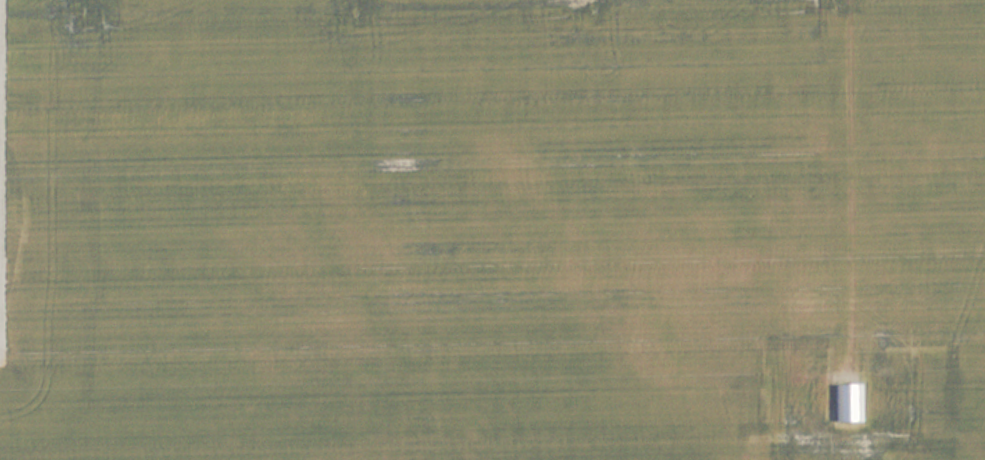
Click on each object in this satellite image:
building: (848, 402)

